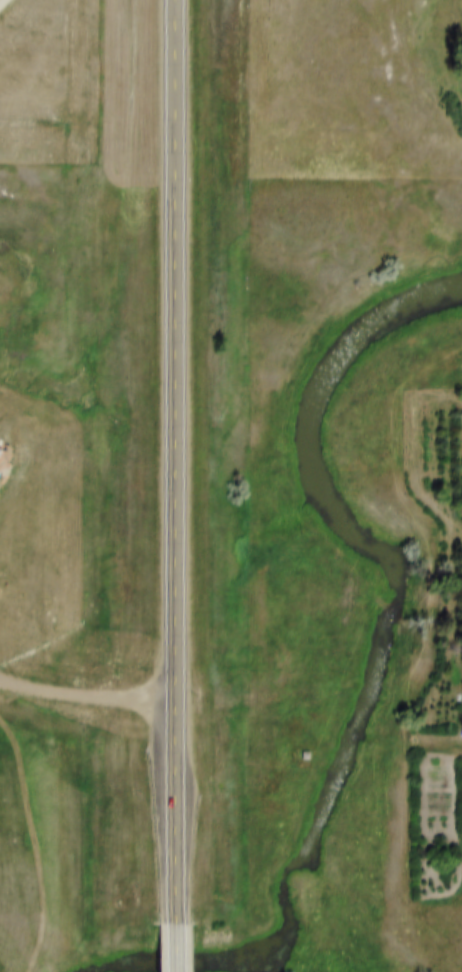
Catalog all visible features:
road: (174, 457)
road: (174, 944)

